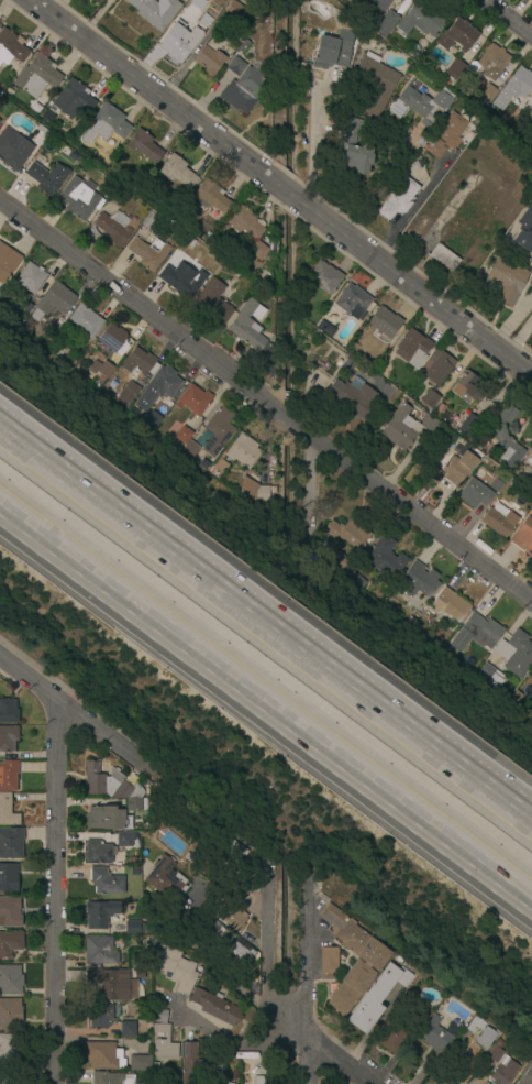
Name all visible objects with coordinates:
building: (398, 0)
building: (400, 0)
building: (97, 1)
building: (197, 2)
building: (354, 2)
building: (381, 3)
building: (231, 9)
building: (155, 11)
building: (421, 18)
road: (507, 18)
building: (387, 23)
building: (343, 32)
building: (457, 36)
building: (179, 42)
building: (11, 47)
building: (411, 51)
building: (331, 54)
building: (209, 59)
building: (490, 63)
building: (235, 66)
building: (453, 67)
building: (36, 76)
building: (520, 81)
building: (375, 84)
building: (243, 89)
building: (486, 94)
building: (74, 99)
building: (425, 105)
building: (47, 117)
building: (531, 118)
building: (106, 124)
building: (41, 135)
building: (445, 135)
road: (318, 145)
building: (144, 146)
building: (13, 149)
building: (352, 149)
building: (176, 171)
building: (46, 176)
road: (284, 183)
building: (209, 197)
building: (78, 199)
building: (398, 199)
road: (415, 205)
building: (148, 220)
building: (115, 228)
building: (247, 229)
building: (524, 231)
building: (273, 243)
building: (147, 252)
building: (444, 259)
building: (175, 260)
building: (7, 263)
building: (324, 277)
building: (31, 278)
building: (507, 281)
building: (182, 282)
building: (213, 300)
building: (352, 300)
building: (53, 302)
building: (27, 307)
road: (512, 319)
building: (85, 321)
building: (385, 322)
building: (248, 325)
building: (112, 339)
building: (413, 348)
building: (137, 361)
building: (437, 366)
building: (101, 369)
building: (157, 387)
building: (467, 387)
building: (128, 392)
road: (267, 395)
building: (353, 396)
building: (430, 399)
building: (193, 401)
building: (437, 409)
building: (151, 419)
building: (430, 424)
building: (469, 426)
building: (400, 428)
building: (219, 430)
building: (184, 436)
building: (503, 436)
building: (190, 450)
building: (243, 451)
building: (531, 457)
building: (458, 461)
building: (219, 468)
building: (435, 478)
building: (496, 485)
building: (255, 491)
building: (476, 494)
building: (499, 521)
building: (344, 534)
building: (523, 536)
building: (386, 558)
building: (336, 560)
building: (418, 582)
building: (451, 605)
road: (265, 627)
building: (475, 633)
building: (516, 654)
building: (490, 677)
building: (531, 678)
building: (531, 682)
road: (266, 705)
building: (9, 711)
road: (75, 711)
building: (8, 737)
building: (8, 776)
building: (109, 784)
building: (135, 804)
building: (7, 811)
building: (107, 819)
building: (123, 839)
building: (11, 842)
building: (232, 848)
building: (97, 852)
building: (133, 871)
building: (8, 877)
building: (166, 880)
building: (106, 882)
building: (235, 887)
road: (57, 893)
building: (8, 912)
building: (99, 913)
building: (176, 913)
building: (233, 919)
building: (217, 926)
building: (134, 928)
building: (185, 939)
building: (10, 943)
building: (155, 944)
building: (195, 948)
building: (99, 951)
building: (241, 953)
building: (136, 960)
building: (353, 960)
building: (329, 963)
building: (177, 968)
building: (11, 979)
road: (311, 981)
building: (107, 984)
building: (377, 996)
road: (266, 999)
building: (214, 1007)
building: (10, 1014)
building: (99, 1015)
building: (409, 1015)
building: (158, 1016)
building: (425, 1016)
building: (129, 1029)
building: (481, 1032)
building: (394, 1036)
building: (437, 1038)
building: (164, 1043)
road: (241, 1048)
building: (10, 1049)
building: (103, 1055)
building: (190, 1061)
building: (140, 1063)
building: (500, 1065)
building: (217, 1074)
building: (525, 1076)
building: (111, 1078)
building: (257, 1080)

